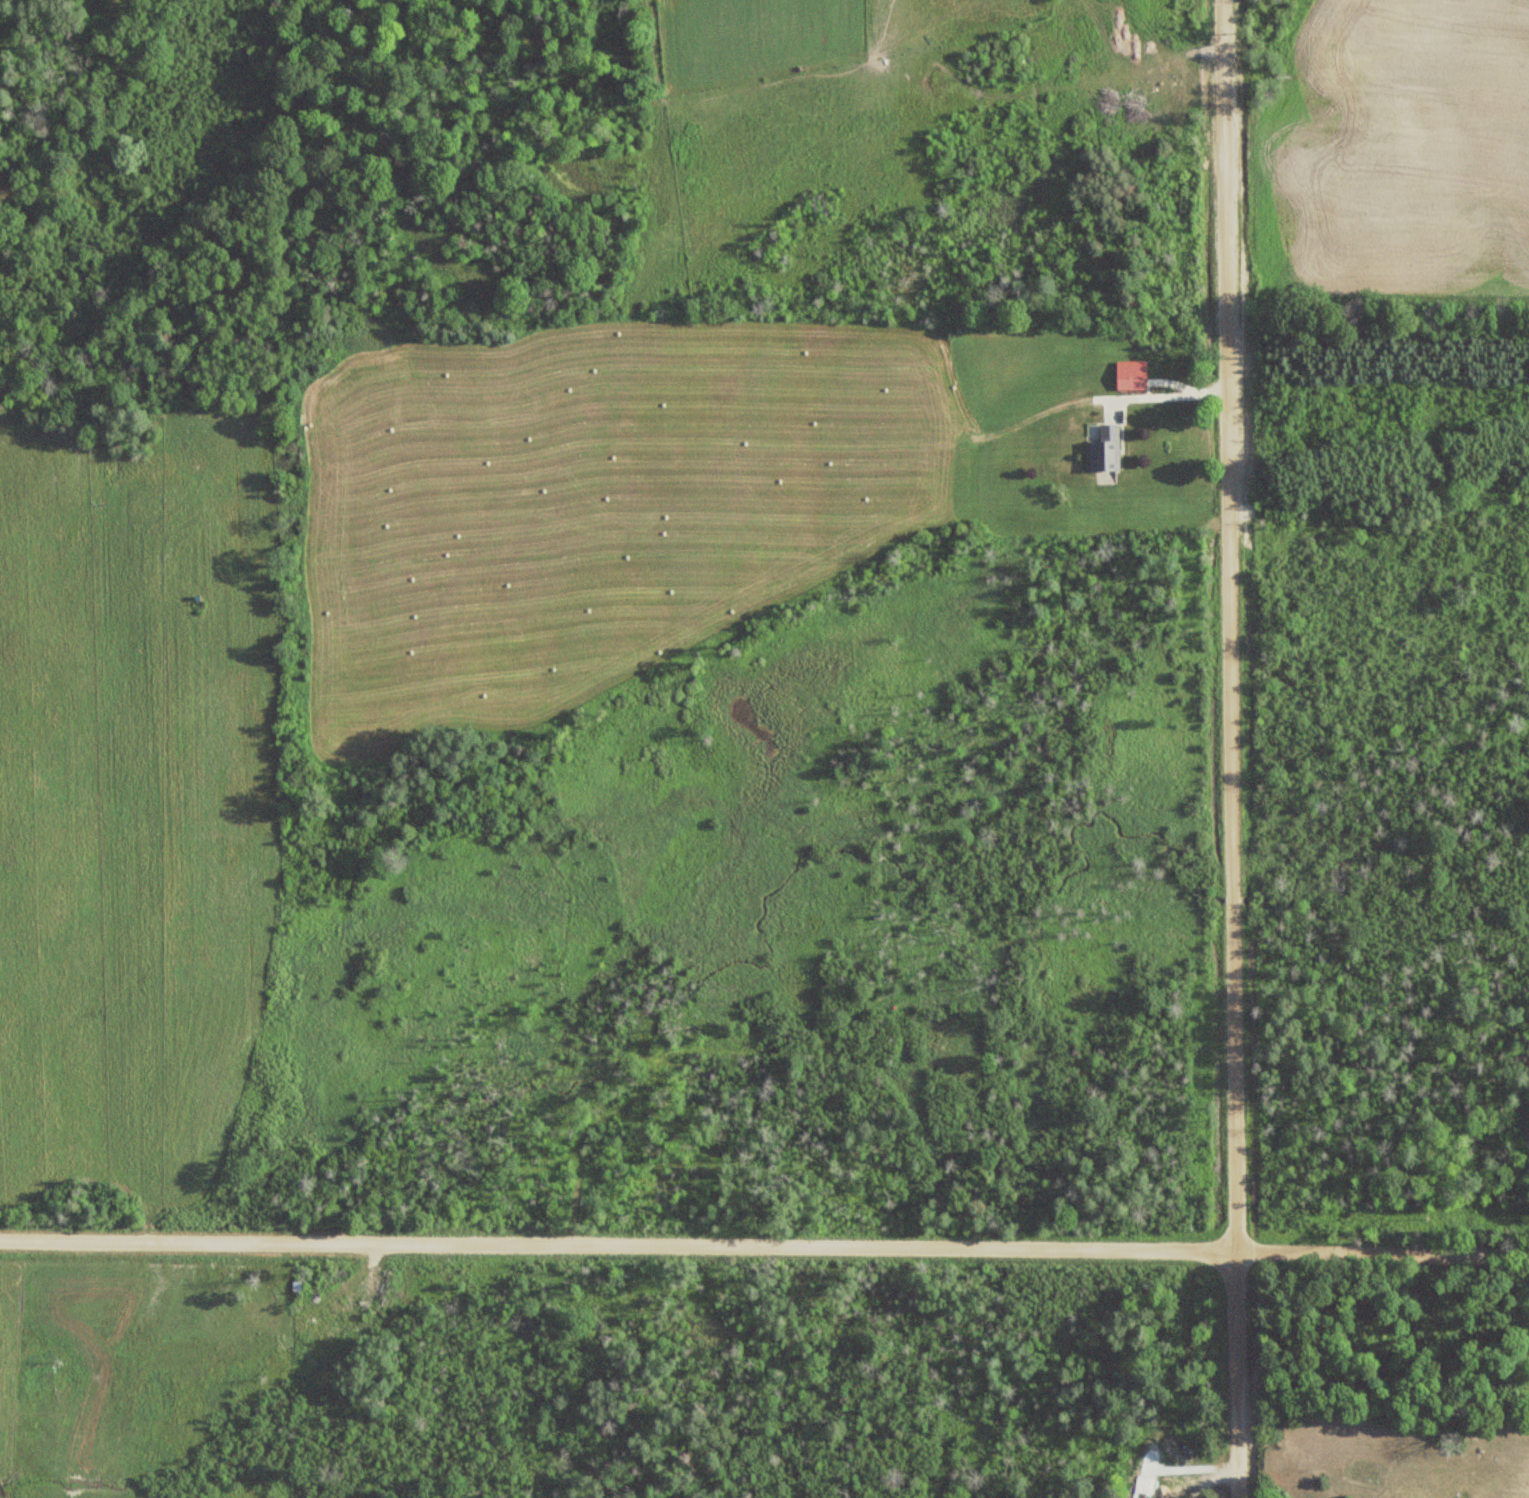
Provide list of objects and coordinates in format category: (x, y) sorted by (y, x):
building: (1129, 375)
building: (1104, 448)
road: (1233, 748)
road: (764, 1242)
building: (321, 1329)

